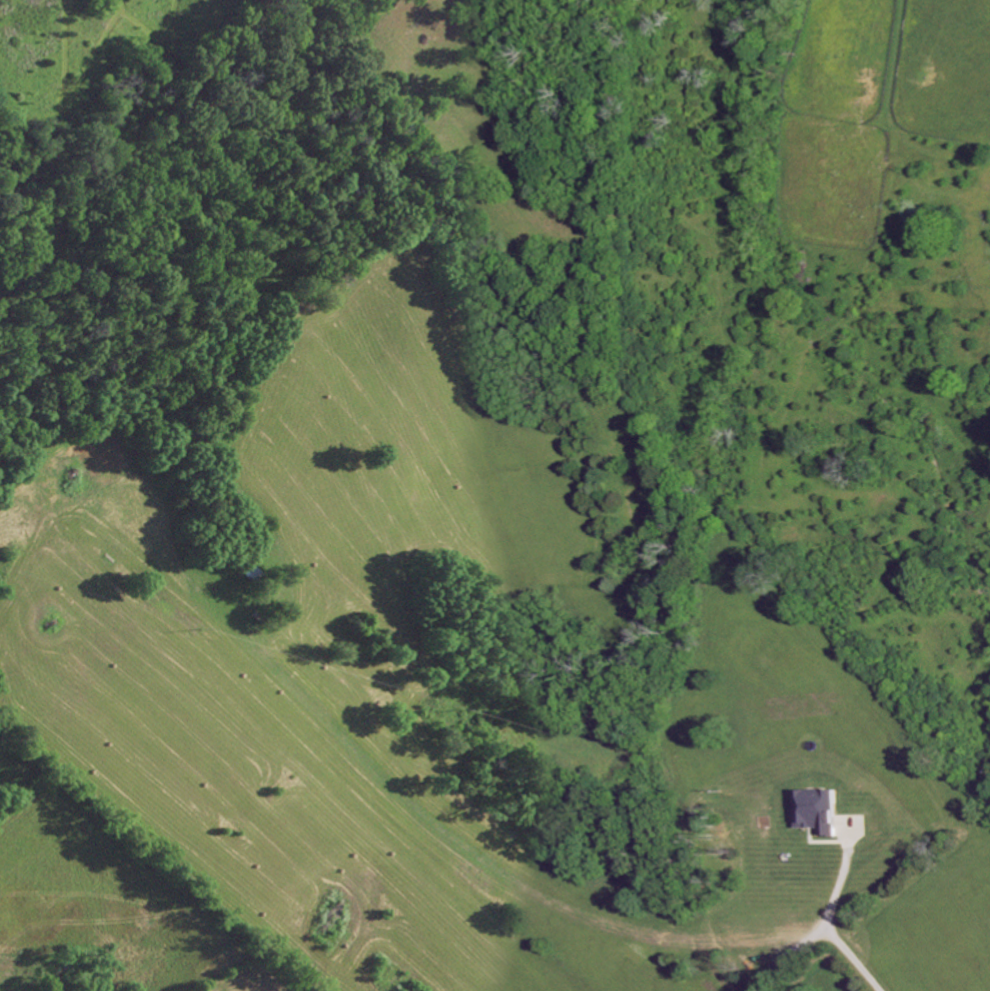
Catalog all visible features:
building: (818, 811)
road: (511, 879)

